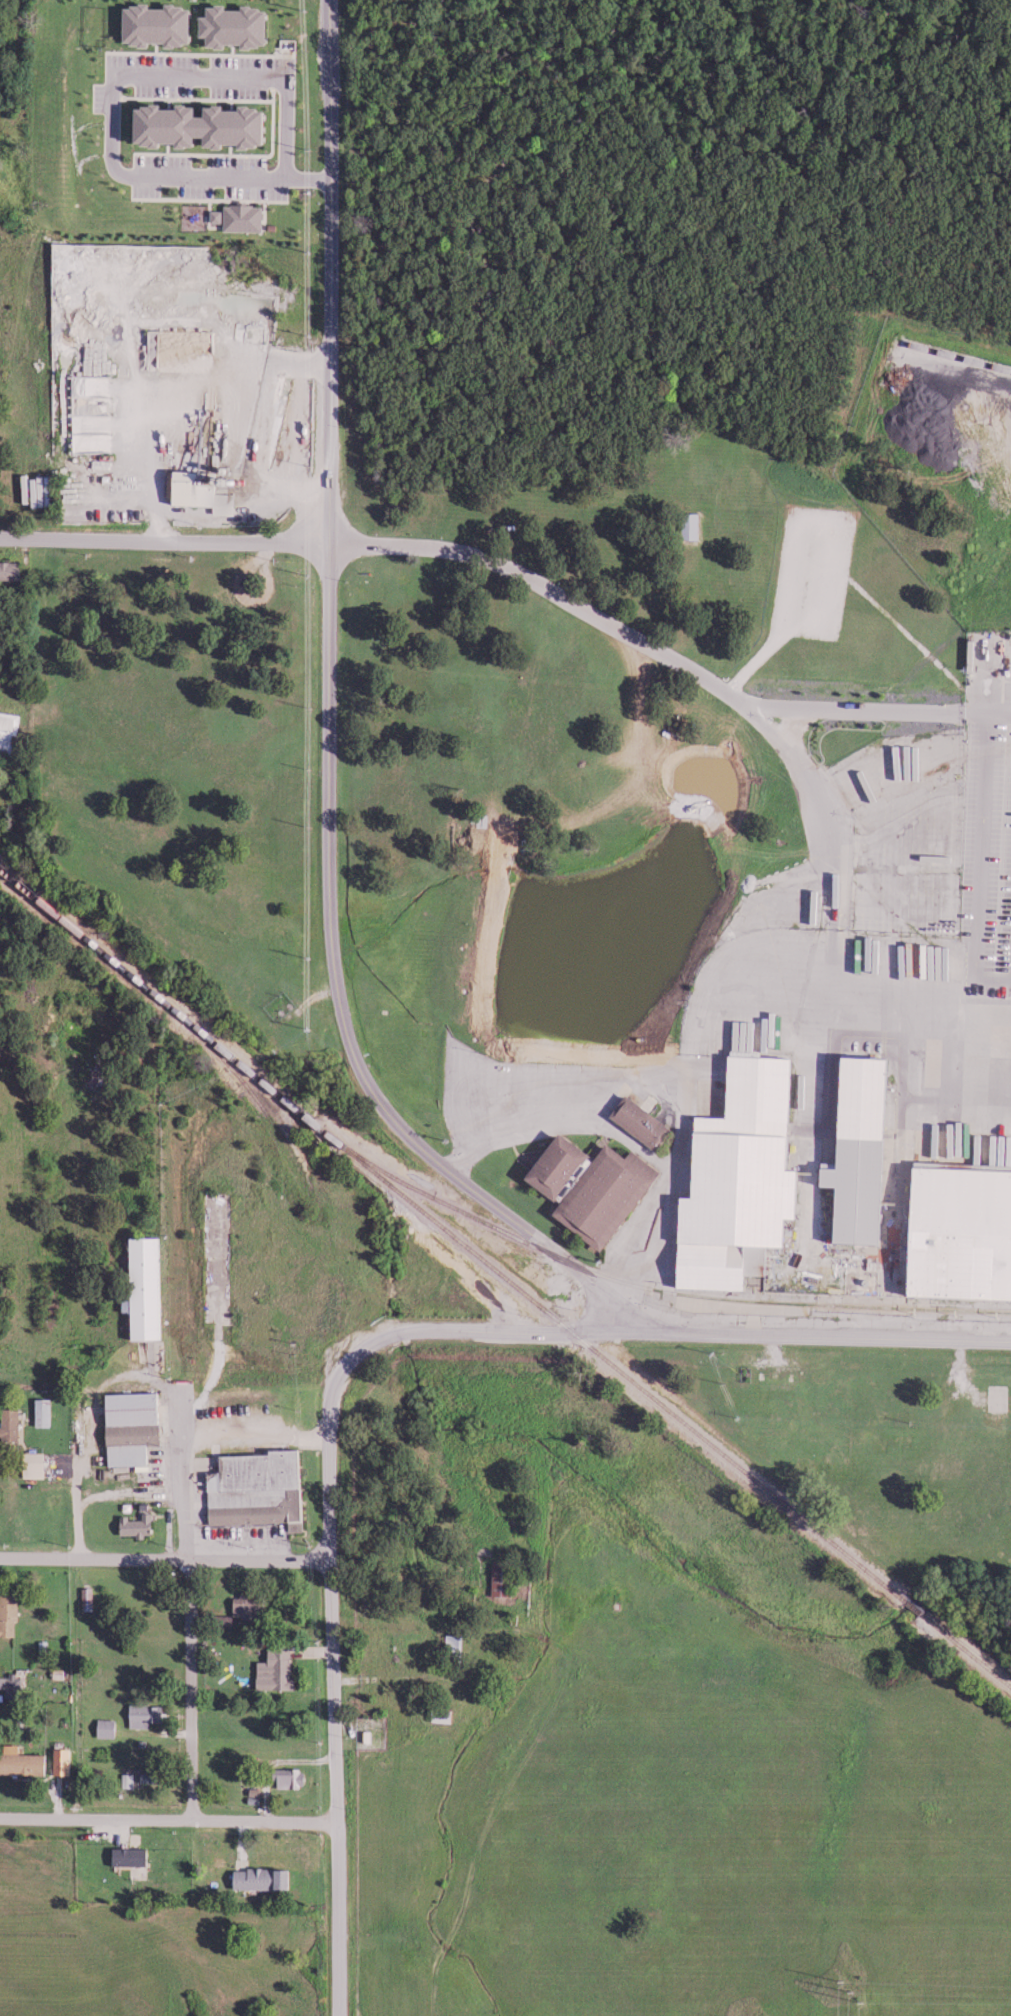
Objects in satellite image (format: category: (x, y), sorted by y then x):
building: (163, 24)
building: (238, 25)
road: (111, 91)
building: (208, 125)
building: (241, 217)
road: (328, 271)
railway: (955, 356)
building: (204, 492)
road: (163, 542)
building: (11, 570)
road: (642, 650)
road: (985, 718)
building: (8, 730)
road: (327, 782)
road: (822, 816)
road: (976, 866)
road: (830, 948)
building: (778, 1032)
railway: (252, 1094)
building: (804, 1095)
building: (636, 1122)
building: (850, 1147)
building: (732, 1178)
building: (585, 1186)
road: (482, 1198)
building: (874, 1215)
building: (954, 1234)
railway: (506, 1277)
building: (150, 1287)
railway: (666, 1294)
building: (129, 1304)
road: (655, 1335)
building: (45, 1411)
building: (11, 1423)
building: (133, 1426)
building: (36, 1464)
road: (176, 1480)
building: (260, 1489)
road: (72, 1510)
building: (137, 1525)
road: (166, 1564)
building: (505, 1579)
building: (88, 1598)
building: (9, 1611)
building: (456, 1645)
building: (278, 1668)
building: (3, 1683)
building: (14, 1684)
road: (186, 1690)
road: (335, 1705)
building: (147, 1714)
building: (107, 1727)
building: (23, 1761)
building: (63, 1761)
building: (128, 1779)
road: (169, 1815)
building: (133, 1856)
building: (265, 1878)

